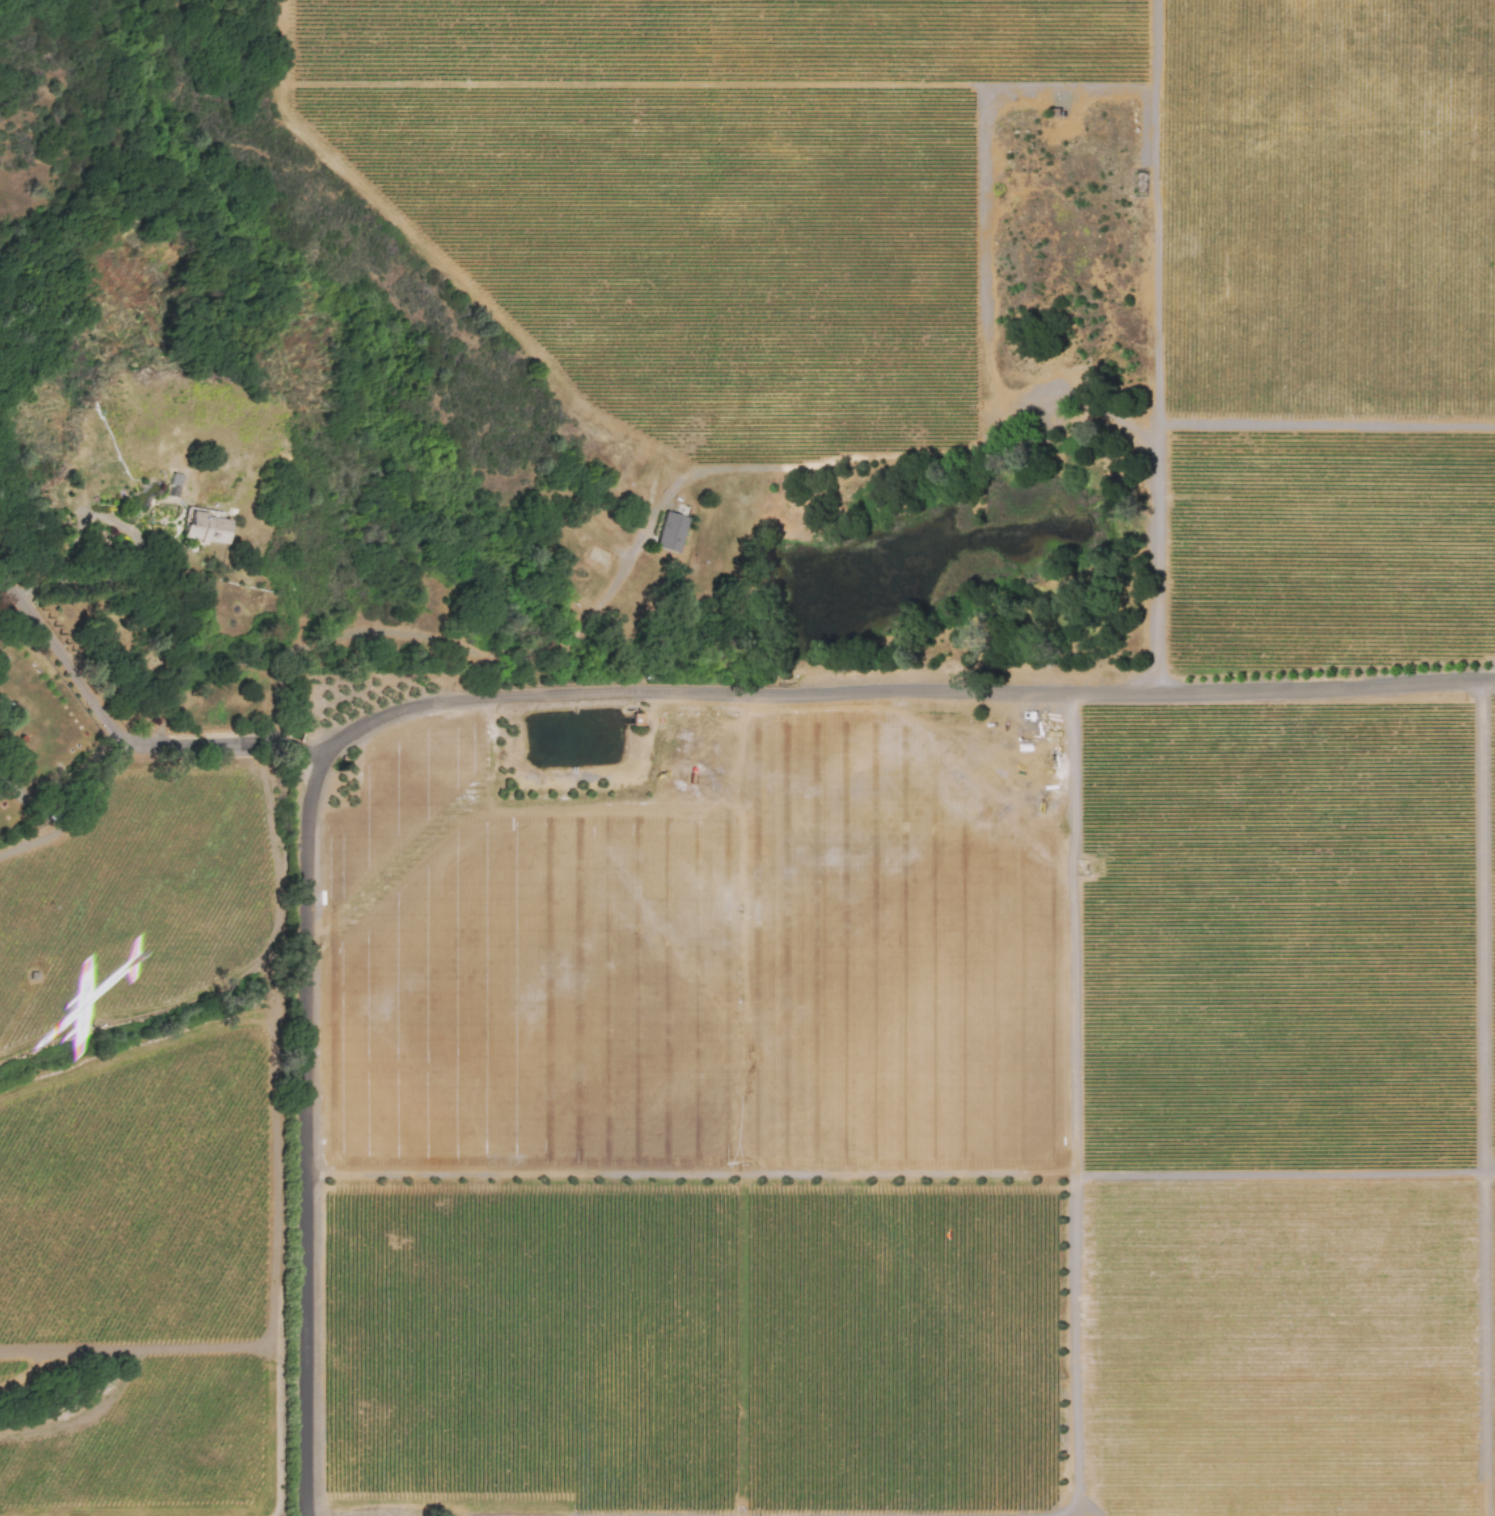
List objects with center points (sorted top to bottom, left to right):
building: (205, 529)
building: (670, 533)
road: (575, 632)
road: (899, 693)
road: (120, 732)
road: (65, 796)
road: (80, 813)
road: (304, 1134)

